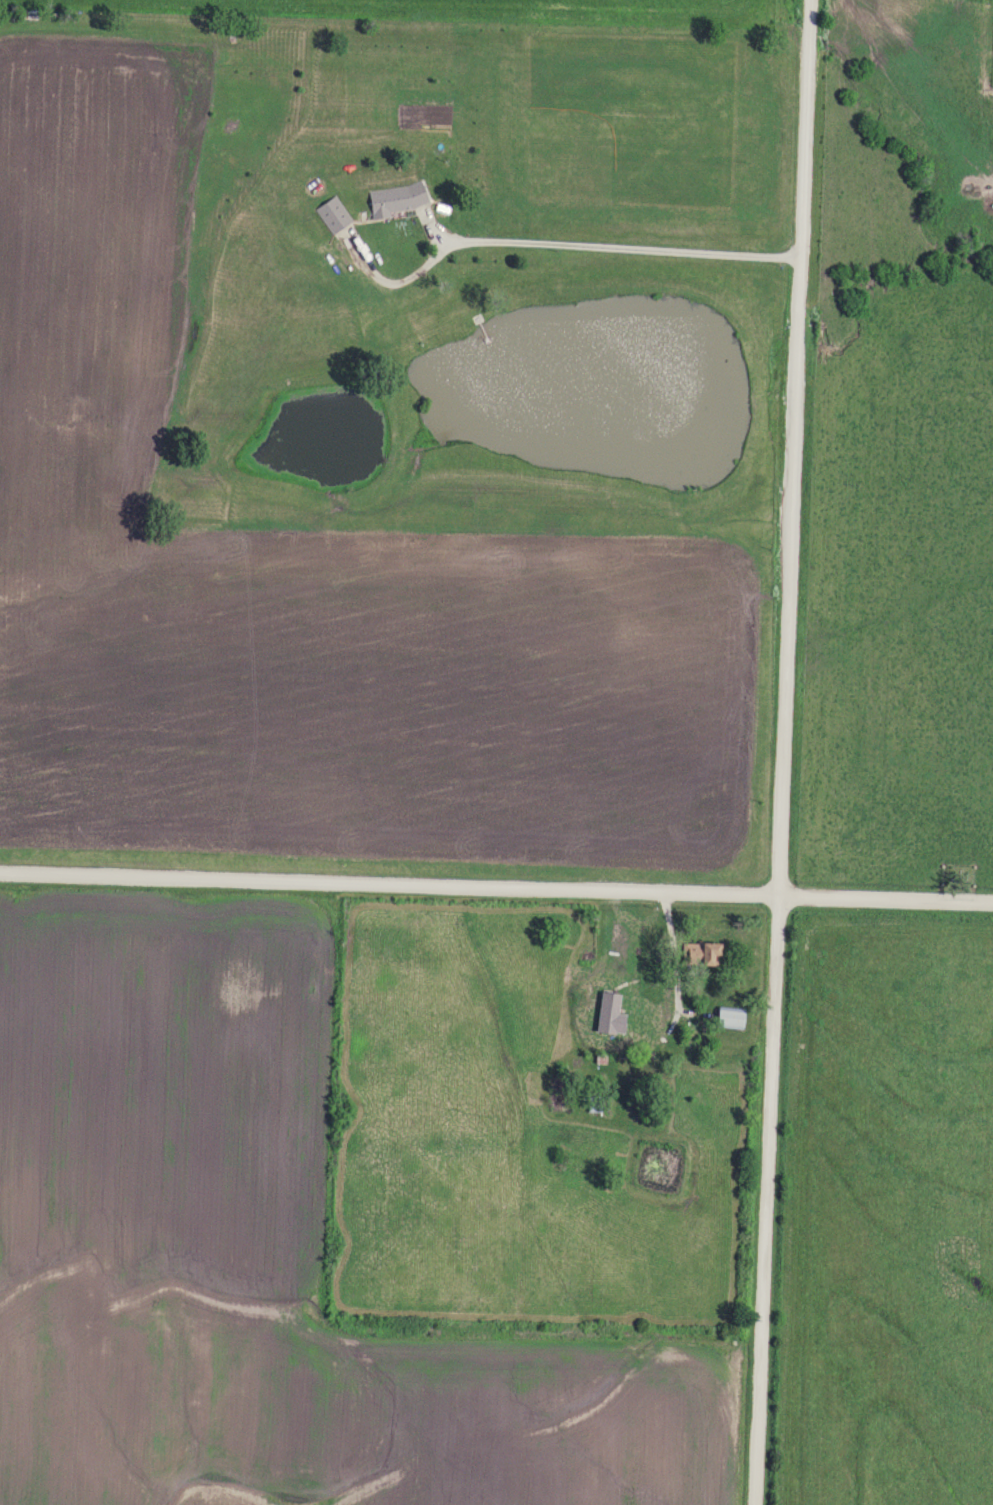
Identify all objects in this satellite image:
building: (398, 199)
building: (333, 215)
road: (558, 243)
road: (784, 752)
park: (958, 874)
road: (496, 888)
road: (674, 951)
building: (702, 952)
building: (731, 1018)
building: (608, 1024)

